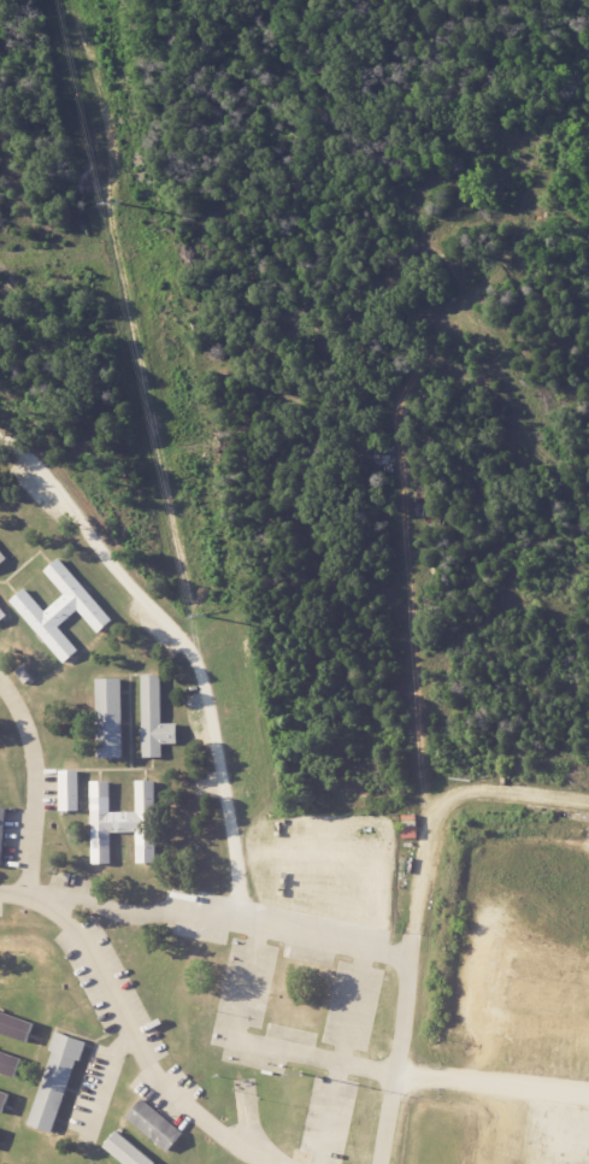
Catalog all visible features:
power tower: (117, 204)
building: (2, 557)
building: (61, 611)
building: (2, 615)
power tower: (205, 617)
building: (111, 718)
building: (154, 719)
building: (67, 790)
road: (37, 795)
building: (122, 822)
building: (2, 834)
road: (289, 927)
building: (16, 1027)
road: (137, 1044)
building: (8, 1064)
power tower: (251, 1070)
building: (55, 1082)
road: (495, 1087)
building: (4, 1099)
road: (387, 1118)
building: (154, 1125)
building: (125, 1151)

